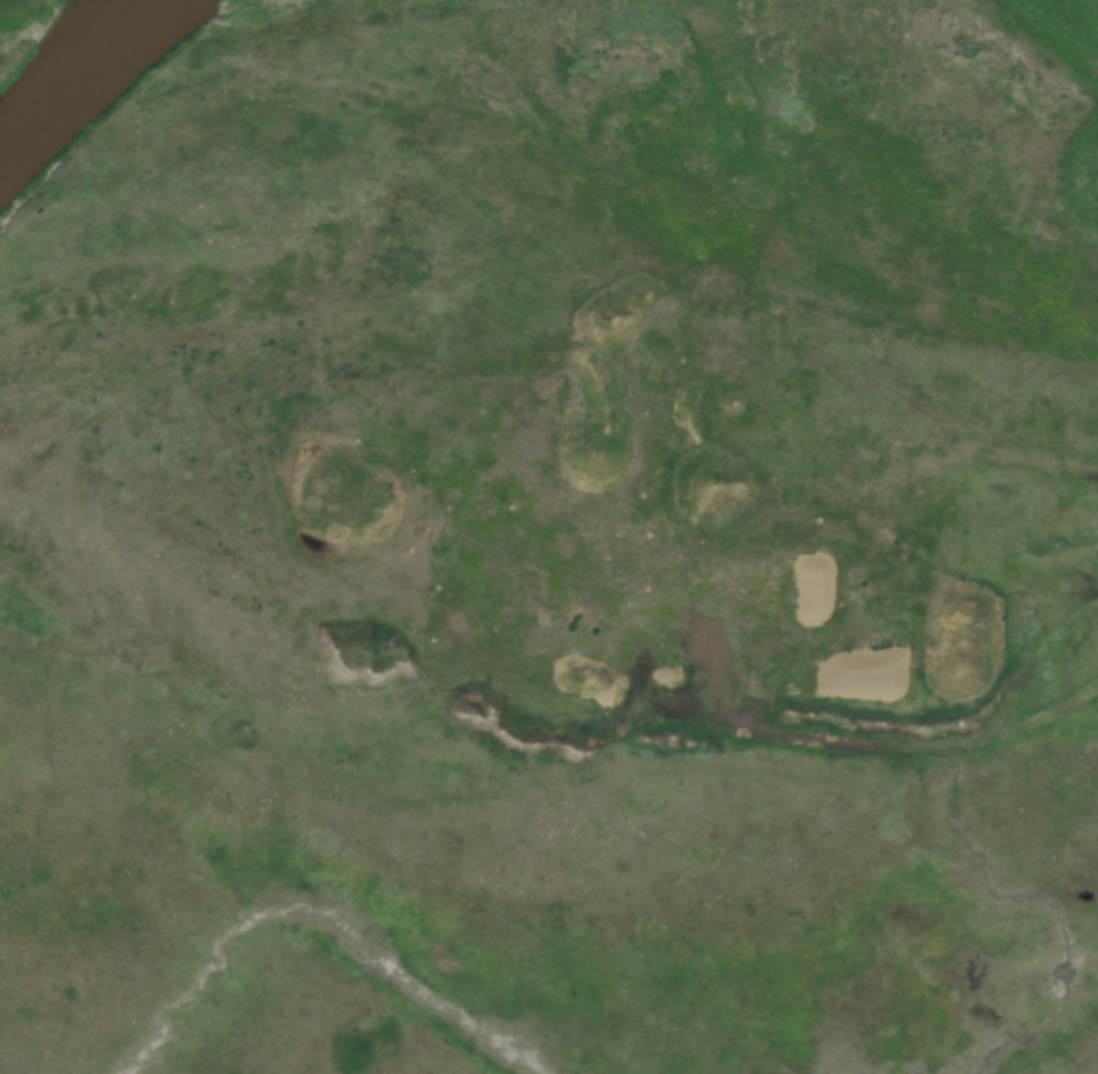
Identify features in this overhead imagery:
river: (73, 76)
road: (556, 631)

